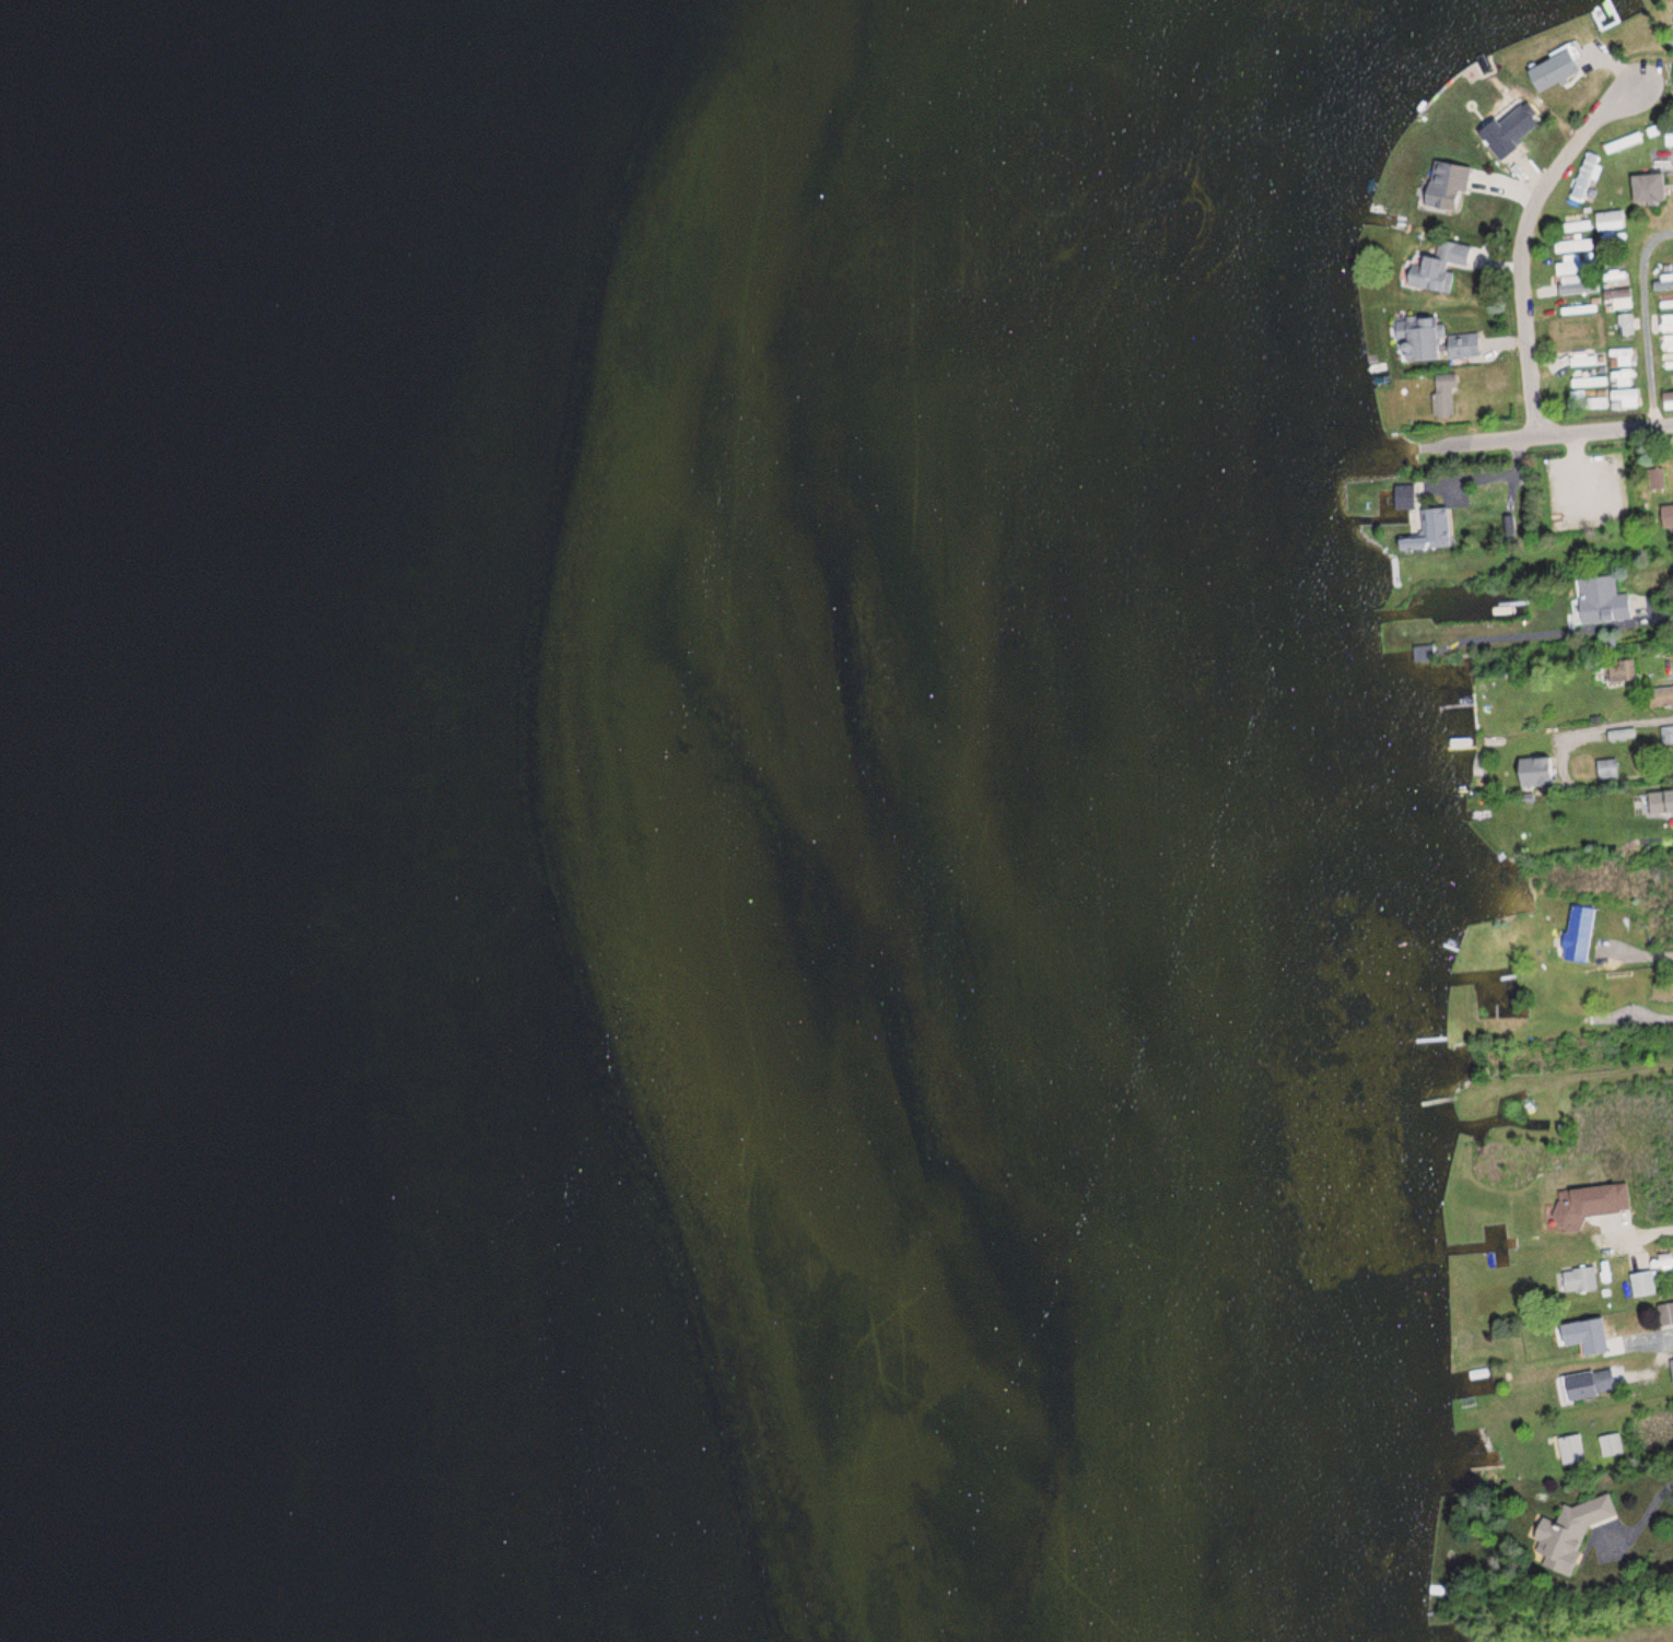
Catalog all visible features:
building: (1552, 68)
building: (1506, 129)
building: (1443, 186)
building: (1645, 188)
building: (1608, 220)
road: (1526, 236)
building: (1573, 280)
road: (1648, 321)
building: (1625, 324)
building: (1418, 340)
building: (1622, 356)
building: (1588, 382)
road: (1547, 433)
road: (1502, 480)
building: (1402, 496)
building: (1666, 516)
building: (1434, 528)
building: (1601, 600)
building: (1621, 735)
building: (1666, 735)
building: (1606, 769)
building: (1537, 774)
road: (1636, 786)
building: (1618, 981)
road: (1619, 1079)
building: (1616, 1198)
building: (1575, 1211)
road: (1666, 1222)
building: (1579, 1280)
building: (1641, 1283)
building: (1664, 1314)
building: (1590, 1336)
road: (1665, 1337)
building: (1593, 1383)
road: (1665, 1399)
building: (1571, 1451)
building: (1610, 1451)
building: (1567, 1532)

